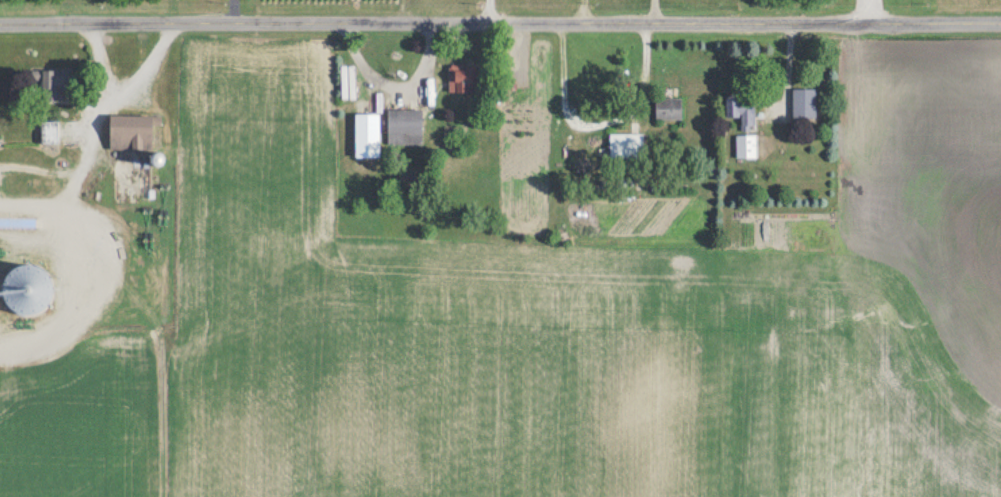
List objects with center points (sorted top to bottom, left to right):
road: (653, 12)
road: (870, 12)
road: (489, 13)
road: (583, 13)
road: (500, 26)
road: (122, 92)
building: (804, 103)
building: (668, 108)
building: (742, 112)
building: (404, 126)
building: (133, 131)
building: (49, 132)
building: (367, 135)
building: (626, 144)
building: (745, 146)
road: (76, 178)
building: (29, 288)

